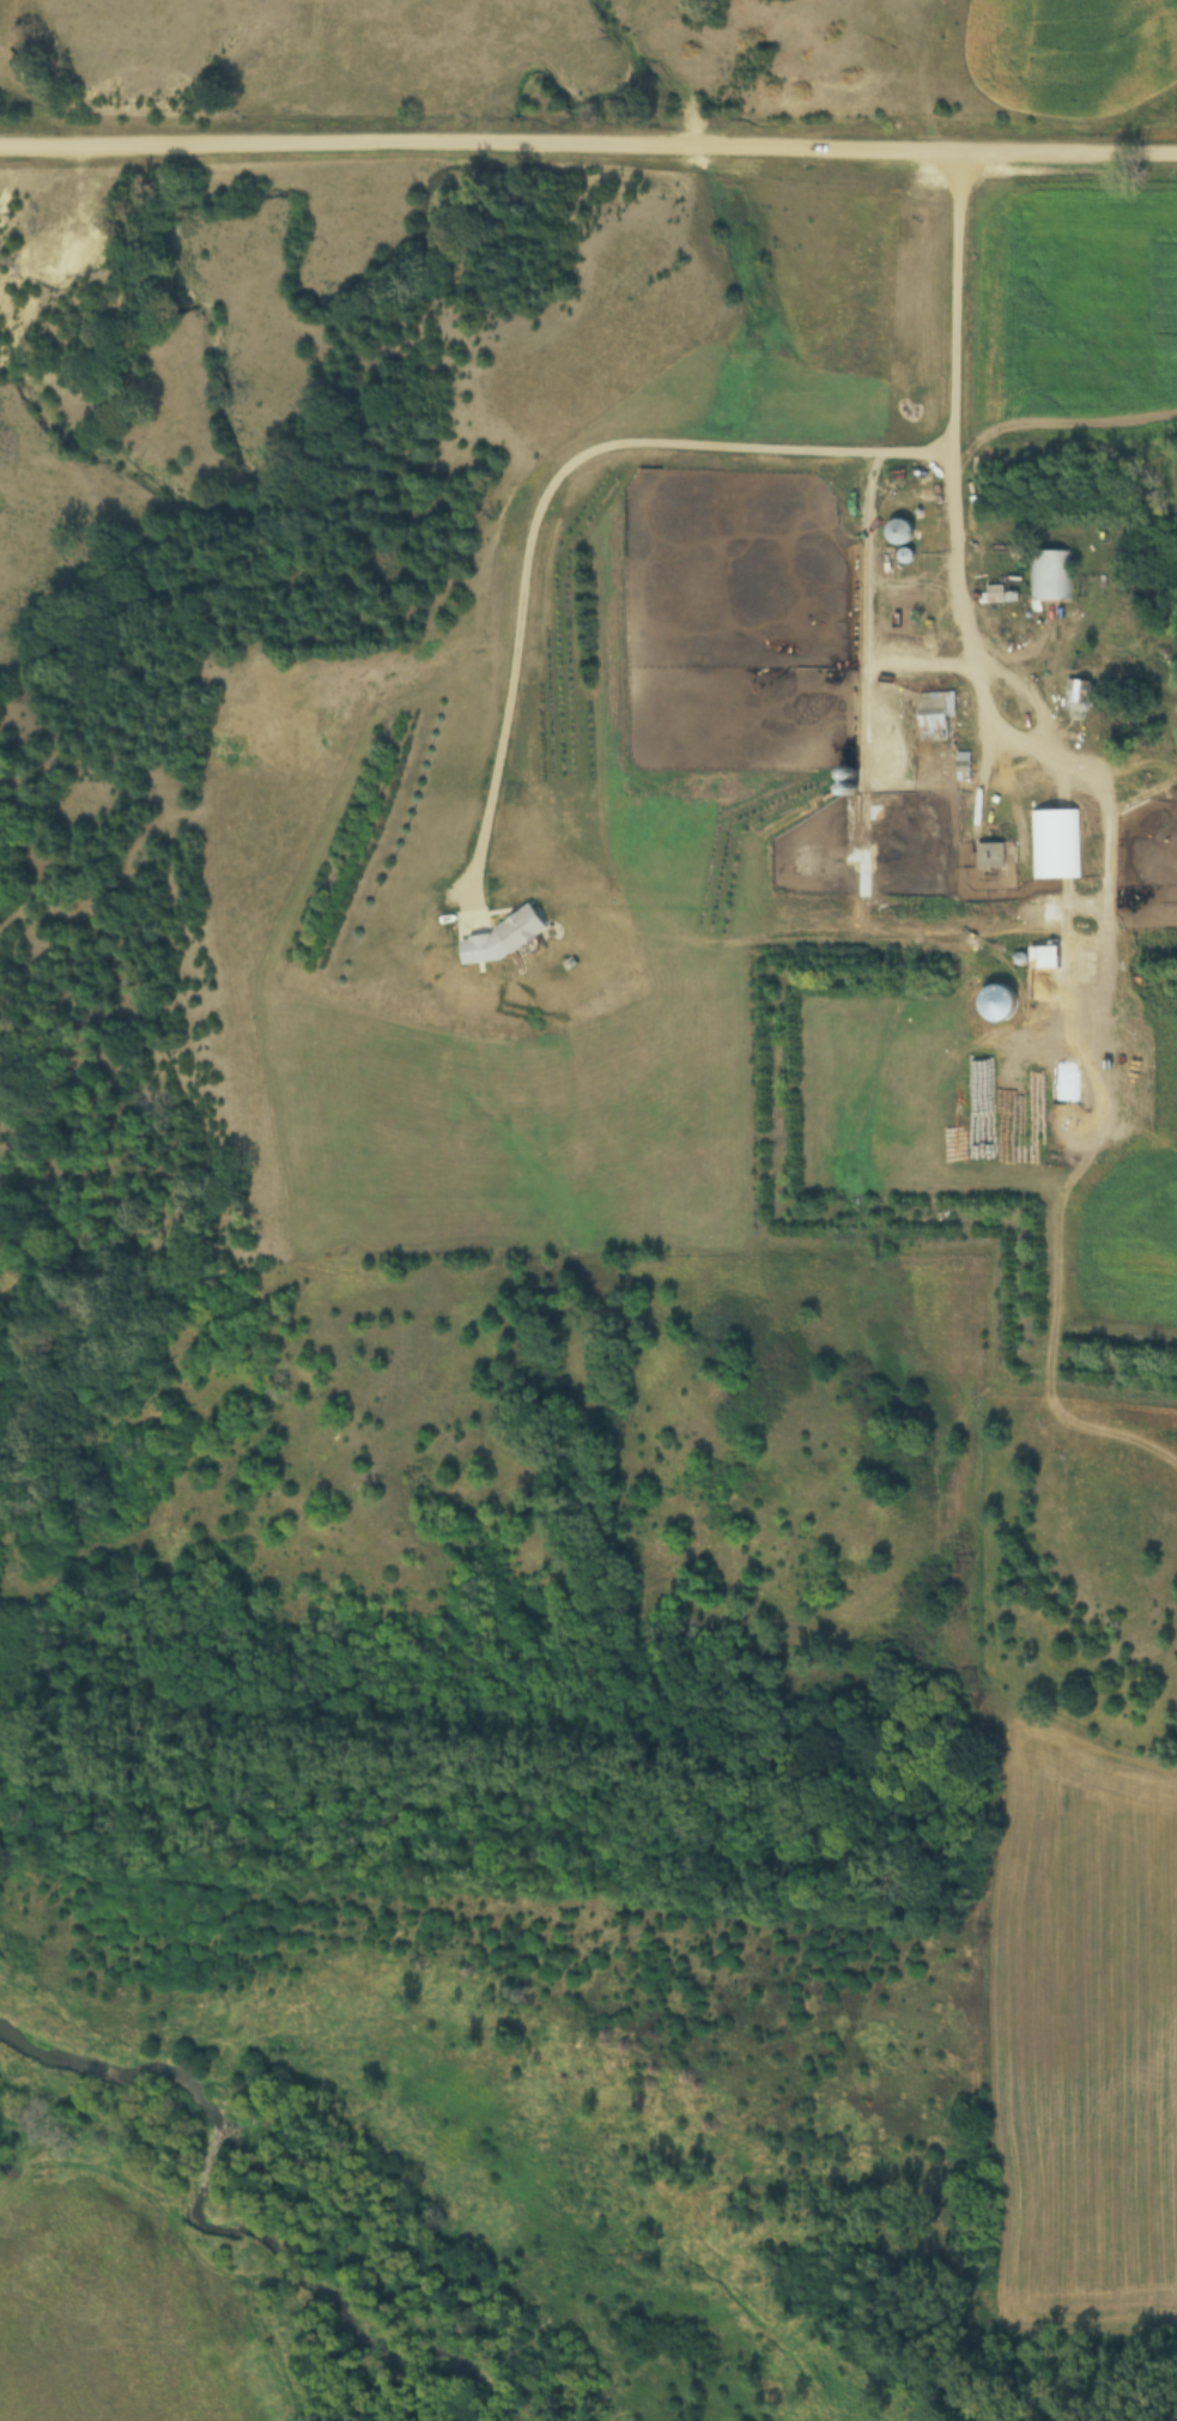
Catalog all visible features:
road: (588, 134)
road: (552, 483)
road: (959, 497)
building: (899, 537)
building: (1050, 577)
building: (993, 597)
road: (870, 610)
road: (927, 664)
road: (1037, 697)
building: (1075, 701)
building: (935, 718)
building: (843, 782)
building: (1056, 846)
building: (989, 857)
river: (220, 2210)

